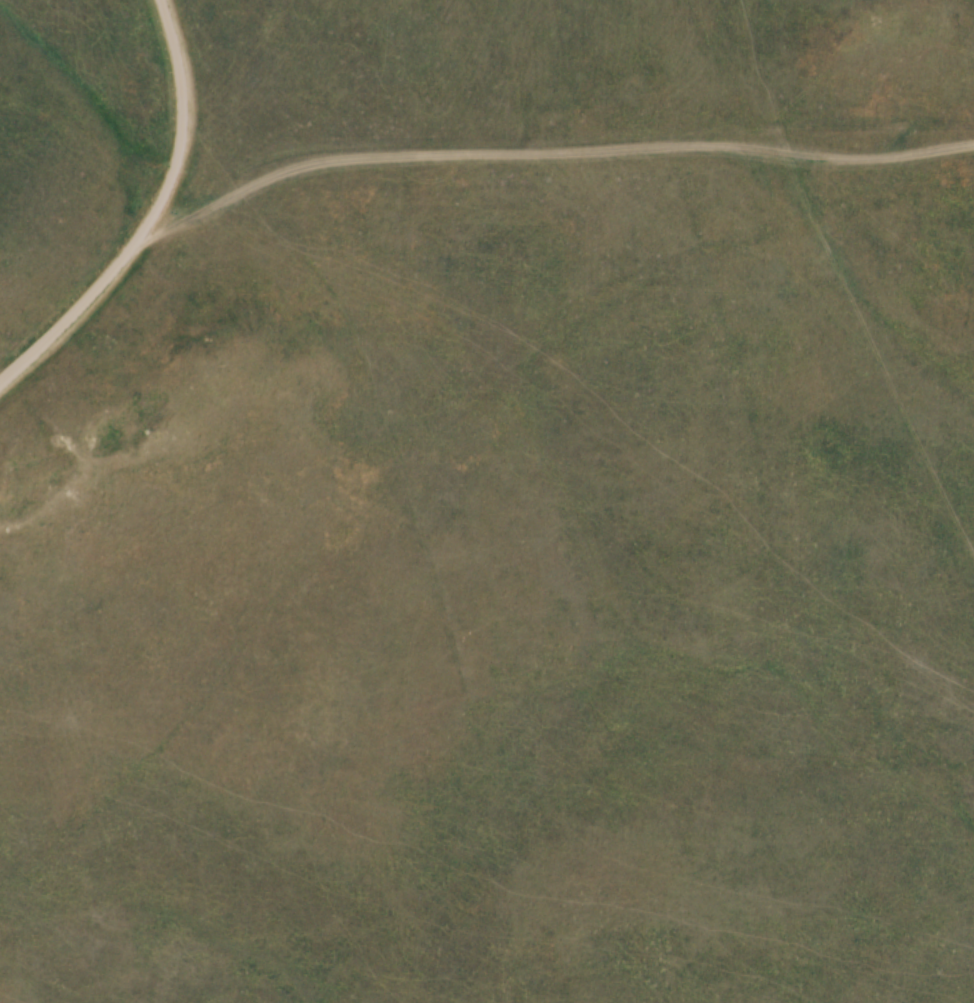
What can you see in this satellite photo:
road: (175, 68)
road: (570, 111)
road: (108, 273)

